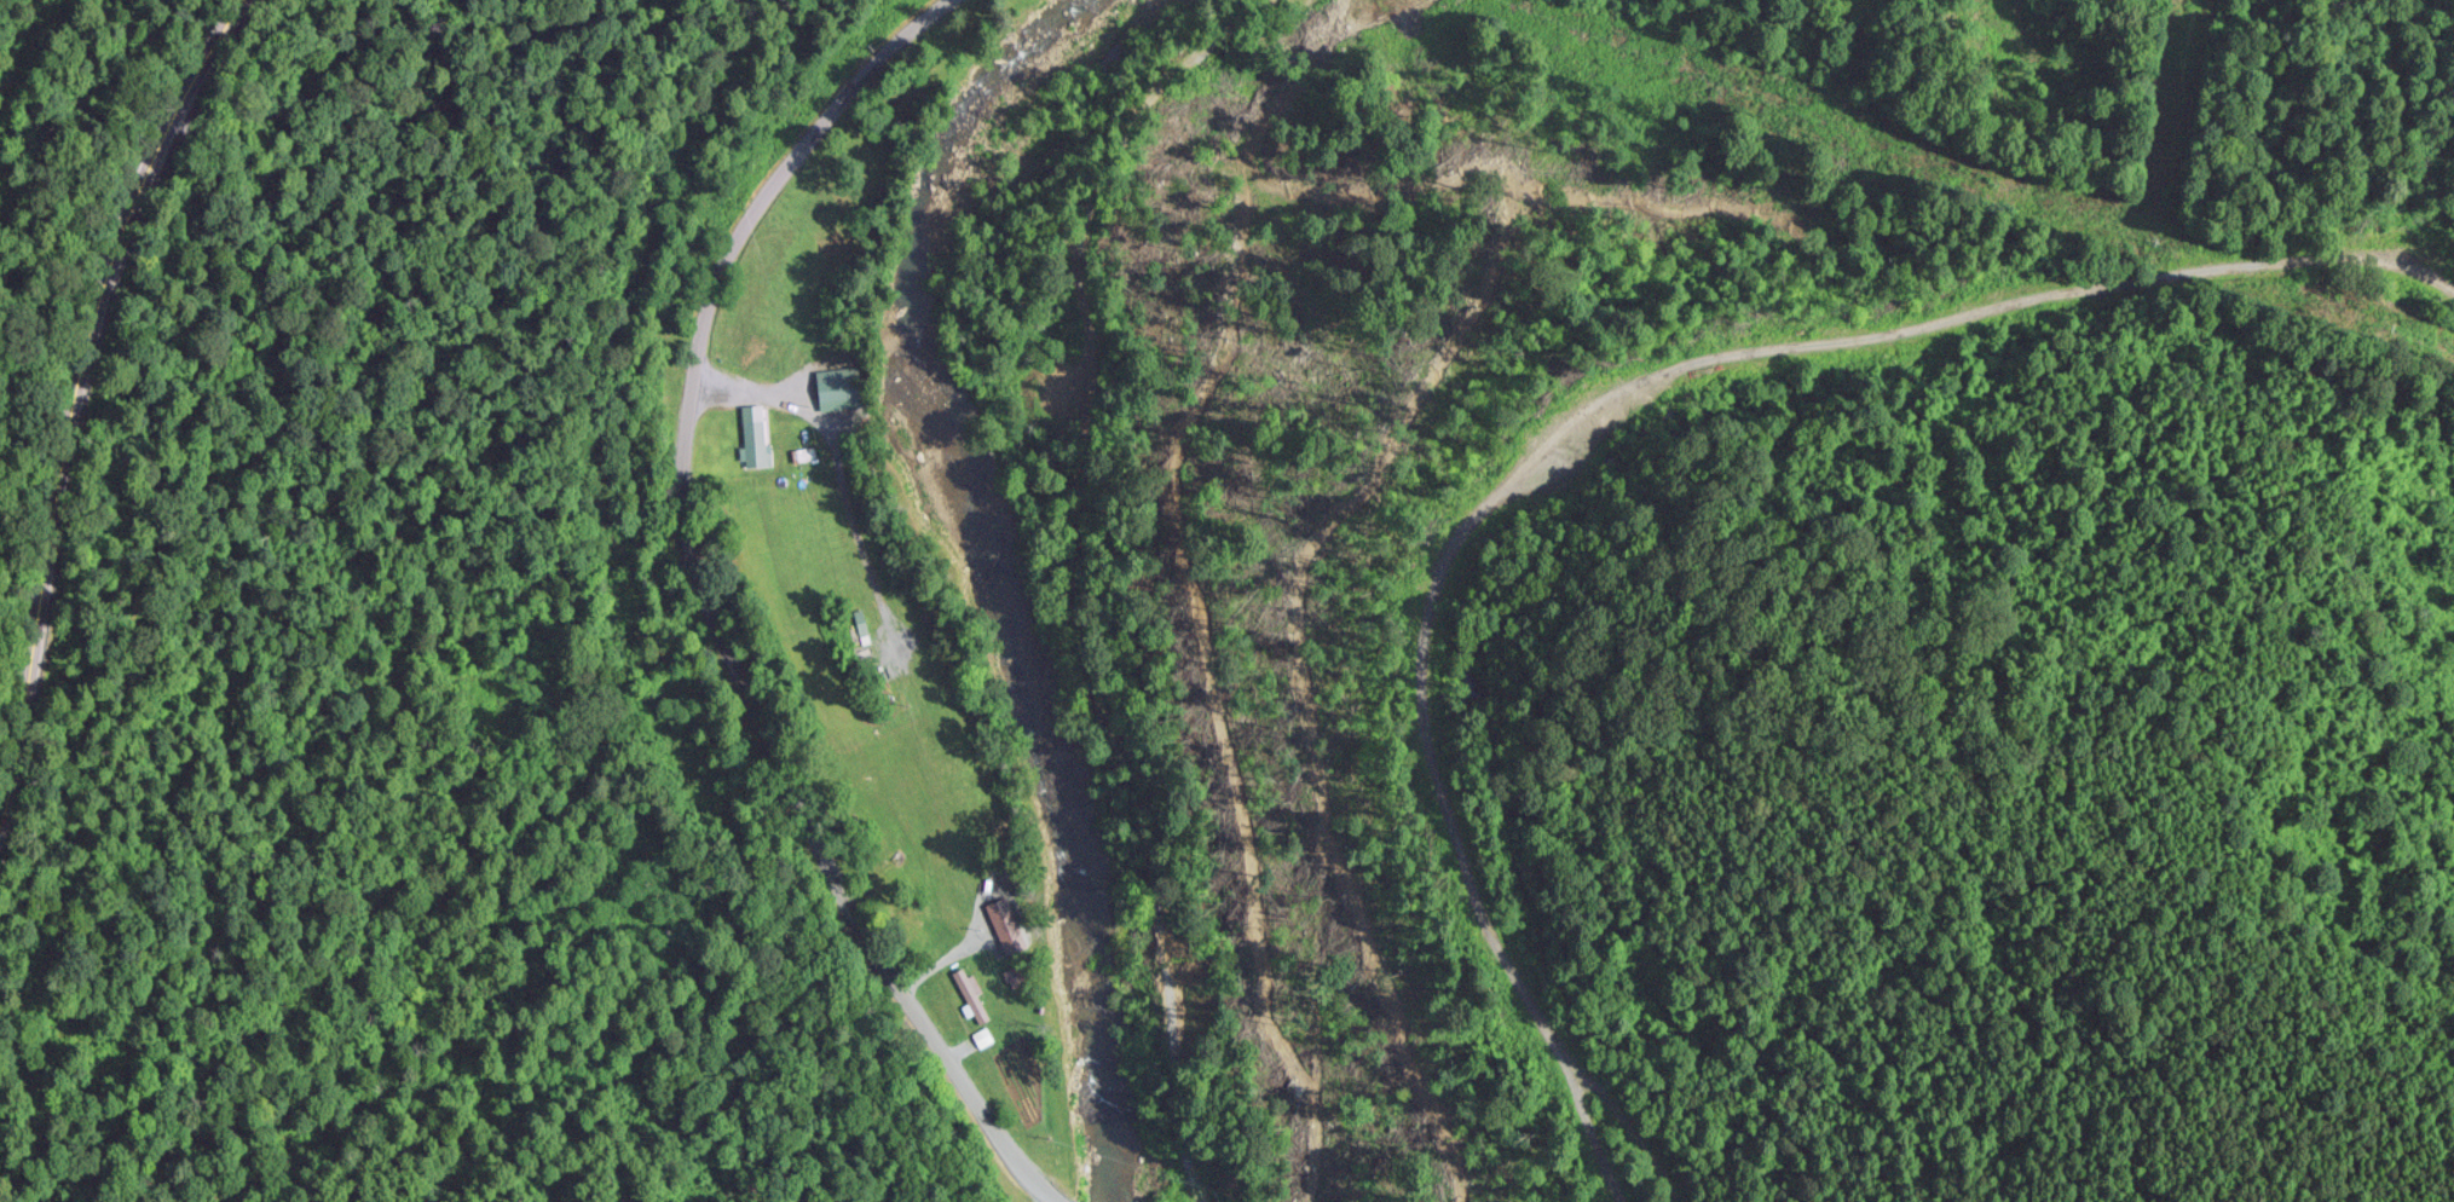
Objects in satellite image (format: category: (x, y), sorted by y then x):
road: (46, 63)
building: (837, 386)
road: (87, 406)
building: (786, 406)
building: (756, 440)
road: (1102, 571)
road: (710, 606)
building: (1014, 959)
road: (1628, 1163)

